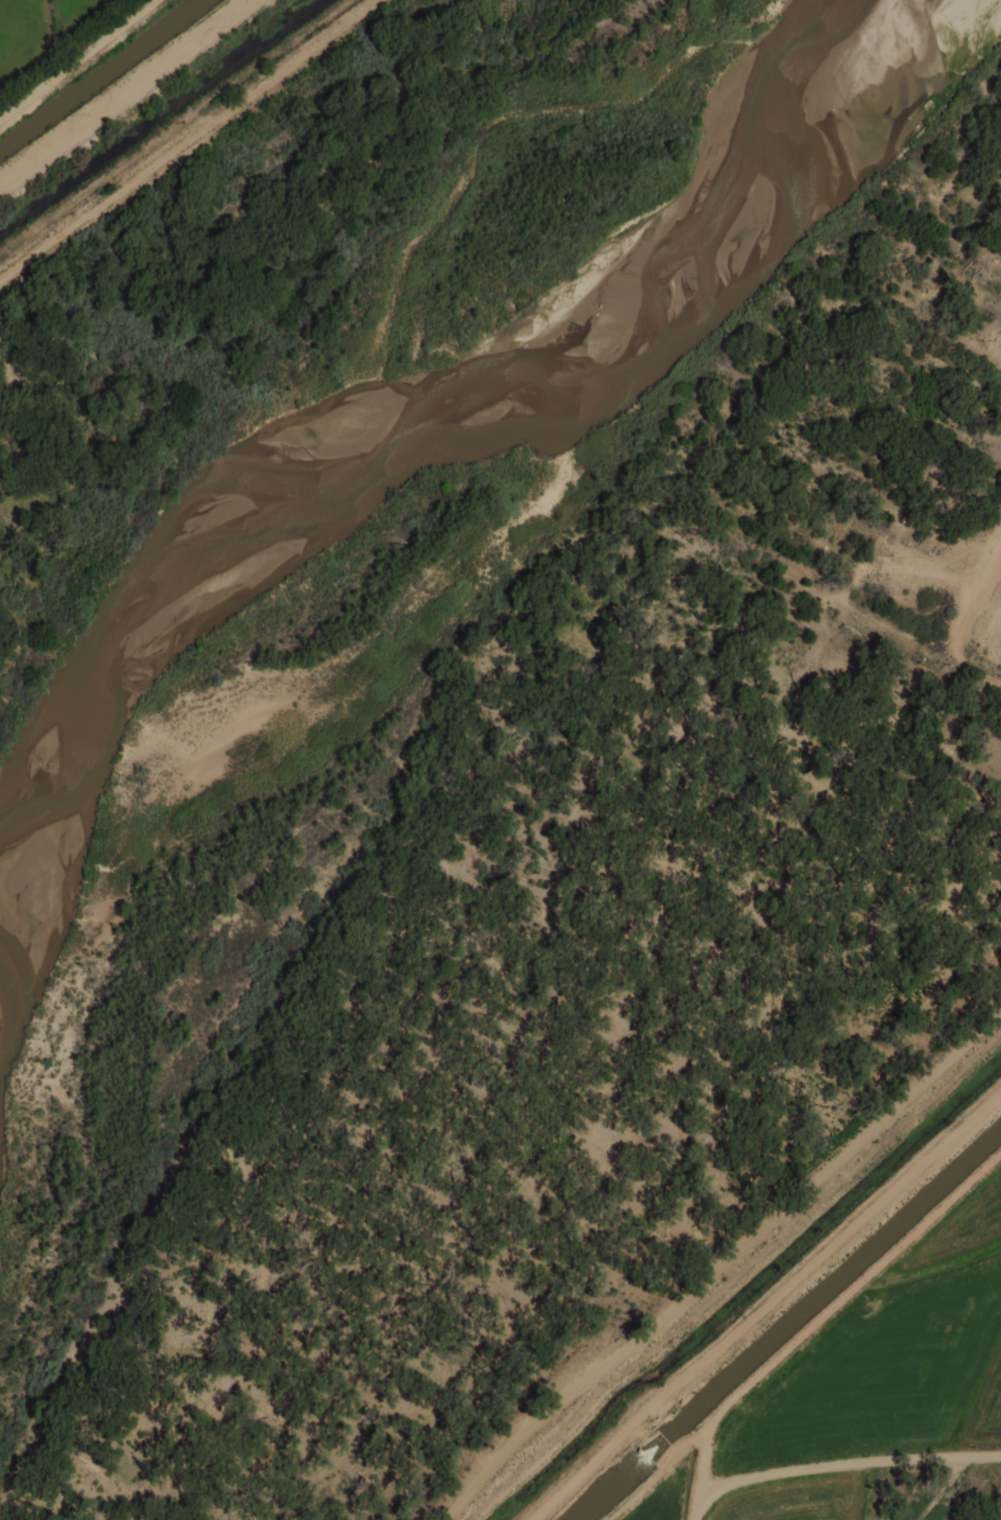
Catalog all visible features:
river: (384, 455)
road: (838, 1462)

